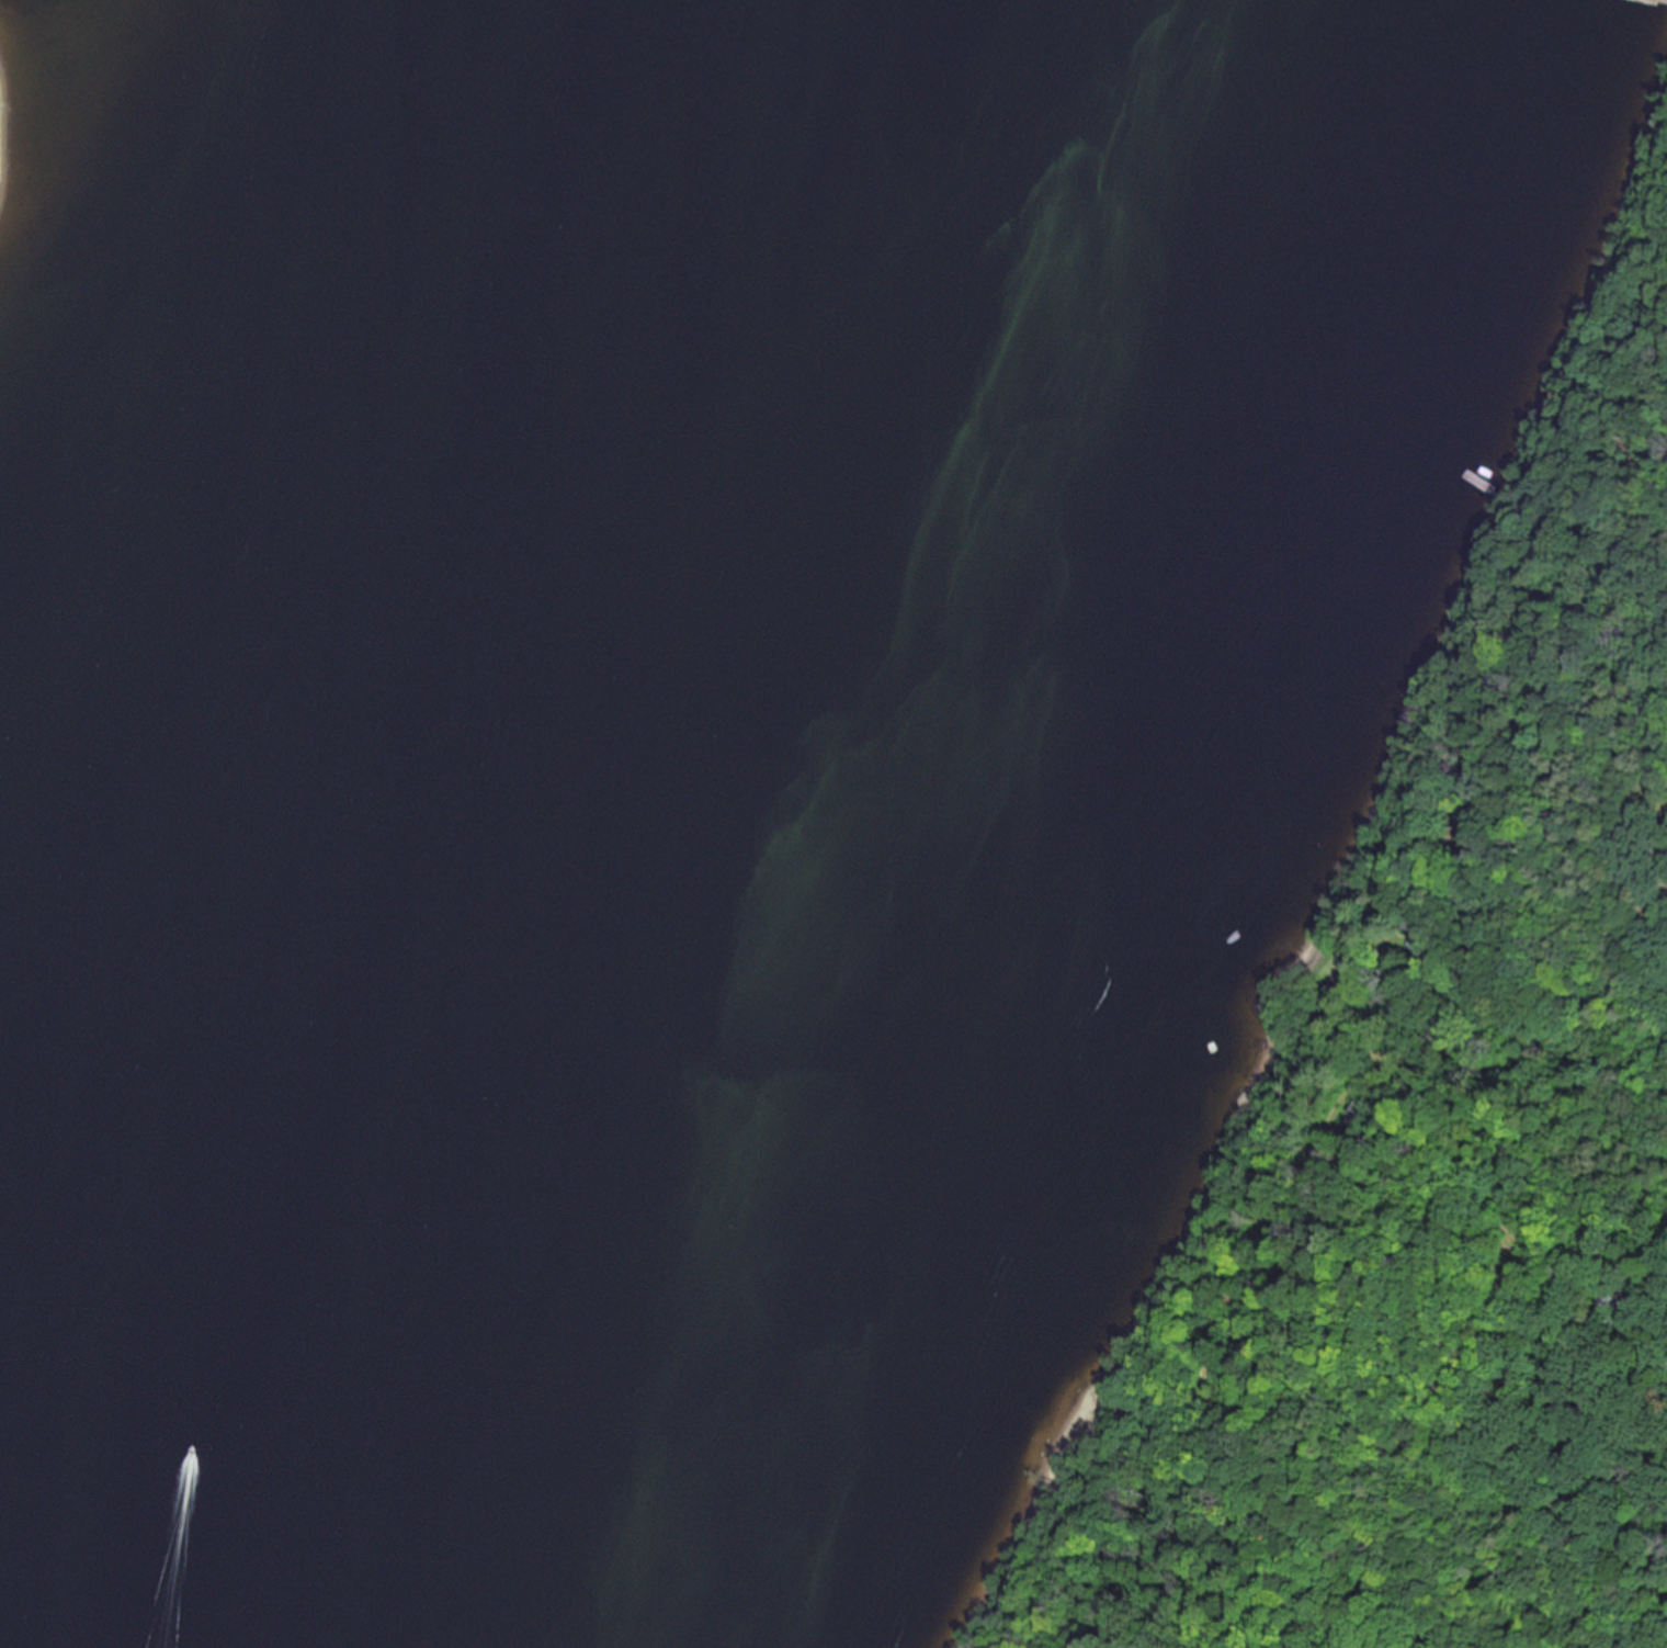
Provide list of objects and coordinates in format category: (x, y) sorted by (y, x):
park: (9, 143)
river: (370, 824)
building: (1365, 1109)
building: (1619, 1308)

